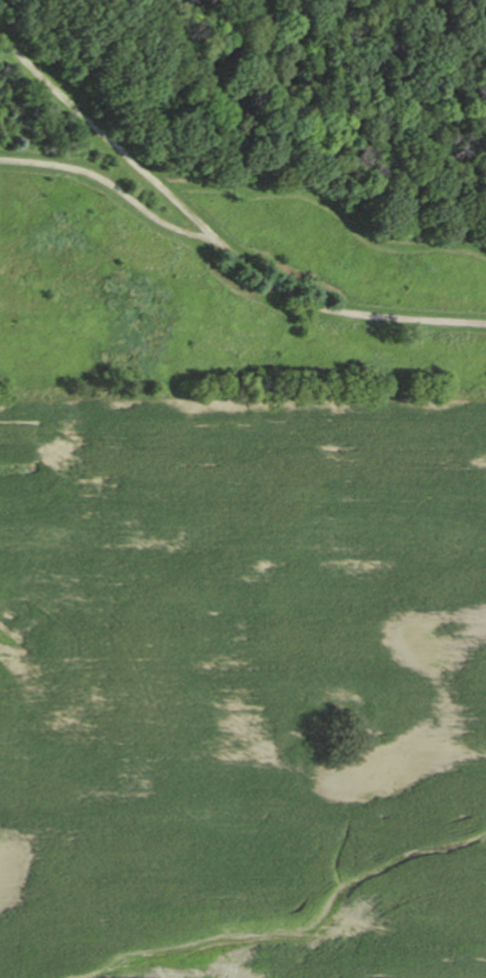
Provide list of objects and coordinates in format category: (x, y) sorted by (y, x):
road: (113, 188)
park: (243, 196)
road: (214, 239)
crop: (242, 685)

